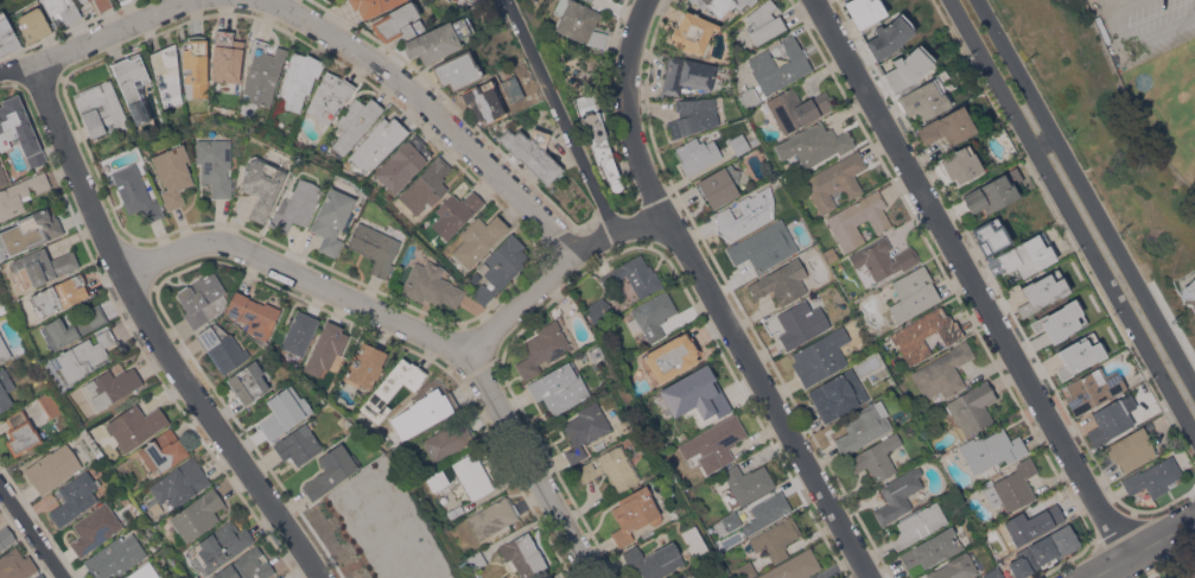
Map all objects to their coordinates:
building: (80, 0)
building: (87, 0)
building: (121, 1)
building: (102, 4)
building: (720, 5)
building: (371, 6)
building: (62, 8)
building: (863, 11)
building: (398, 21)
building: (577, 21)
building: (764, 21)
building: (32, 24)
parking lot: (1146, 28)
road: (112, 32)
building: (692, 32)
building: (7, 36)
building: (889, 36)
building: (438, 39)
building: (227, 56)
building: (195, 65)
building: (780, 65)
building: (908, 68)
park: (1155, 69)
road: (17, 70)
building: (456, 70)
building: (263, 71)
building: (166, 74)
building: (686, 74)
building: (298, 81)
building: (132, 84)
building: (329, 96)
building: (536, 96)
building: (748, 97)
building: (923, 99)
building: (483, 101)
building: (796, 107)
building: (101, 108)
road: (433, 110)
road: (564, 114)
building: (693, 116)
building: (552, 119)
building: (273, 121)
building: (355, 121)
building: (248, 127)
building: (501, 127)
building: (947, 127)
building: (19, 129)
building: (598, 138)
building: (377, 142)
road: (1043, 142)
building: (739, 144)
building: (814, 144)
building: (151, 145)
building: (532, 152)
building: (697, 154)
building: (403, 163)
building: (215, 164)
building: (956, 165)
building: (172, 174)
building: (2, 176)
building: (835, 180)
building: (261, 184)
building: (426, 185)
building: (719, 185)
building: (993, 191)
building: (135, 192)
road: (1085, 192)
building: (20, 193)
building: (297, 205)
building: (456, 212)
building: (746, 212)
road: (1072, 216)
building: (859, 218)
building: (331, 220)
building: (30, 230)
building: (990, 236)
building: (479, 239)
building: (764, 246)
building: (375, 247)
building: (807, 250)
building: (831, 254)
building: (1028, 254)
building: (881, 259)
building: (42, 266)
building: (501, 266)
building: (483, 267)
road: (560, 268)
road: (301, 275)
building: (636, 275)
road: (973, 277)
building: (781, 281)
building: (431, 284)
building: (1188, 291)
building: (1043, 292)
building: (913, 293)
building: (59, 294)
road: (714, 297)
building: (202, 299)
building: (5, 310)
building: (599, 310)
building: (253, 313)
building: (653, 315)
building: (1060, 322)
building: (800, 324)
building: (72, 326)
building: (299, 331)
road: (158, 332)
building: (924, 334)
building: (222, 347)
building: (325, 348)
building: (542, 348)
building: (4, 350)
building: (83, 355)
building: (670, 356)
building: (820, 356)
building: (1079, 358)
building: (364, 364)
building: (943, 371)
building: (248, 382)
building: (110, 386)
building: (392, 387)
building: (559, 387)
building: (5, 388)
building: (1092, 389)
building: (697, 394)
building: (837, 395)
building: (51, 402)
building: (972, 407)
building: (284, 412)
building: (424, 412)
building: (1108, 421)
building: (135, 425)
building: (863, 426)
building: (584, 430)
building: (20, 432)
building: (681, 436)
building: (723, 438)
building: (449, 440)
building: (297, 445)
building: (665, 445)
building: (1132, 449)
building: (991, 450)
building: (161, 452)
building: (876, 457)
road: (535, 465)
building: (52, 468)
building: (610, 468)
building: (331, 470)
building: (473, 475)
building: (1152, 477)
building: (438, 479)
building: (748, 482)
building: (179, 483)
building: (1010, 485)
building: (898, 495)
building: (75, 496)
building: (767, 512)
building: (197, 514)
building: (634, 514)
building: (491, 517)
building: (727, 522)
building: (917, 525)
building: (1028, 525)
road: (33, 528)
building: (94, 528)
park: (375, 529)
building: (6, 536)
building: (776, 538)
building: (694, 541)
building: (221, 545)
road: (1142, 547)
building: (932, 550)
building: (1043, 551)
building: (523, 554)
building: (115, 555)
building: (989, 557)
building: (478, 558)
building: (654, 559)
building: (15, 564)
building: (246, 566)
building: (795, 566)
building: (958, 567)
building: (746, 570)
building: (142, 571)
building: (993, 573)
building: (1187, 573)
building: (39, 576)
building: (687, 576)
building: (278, 577)
building: (549, 577)

